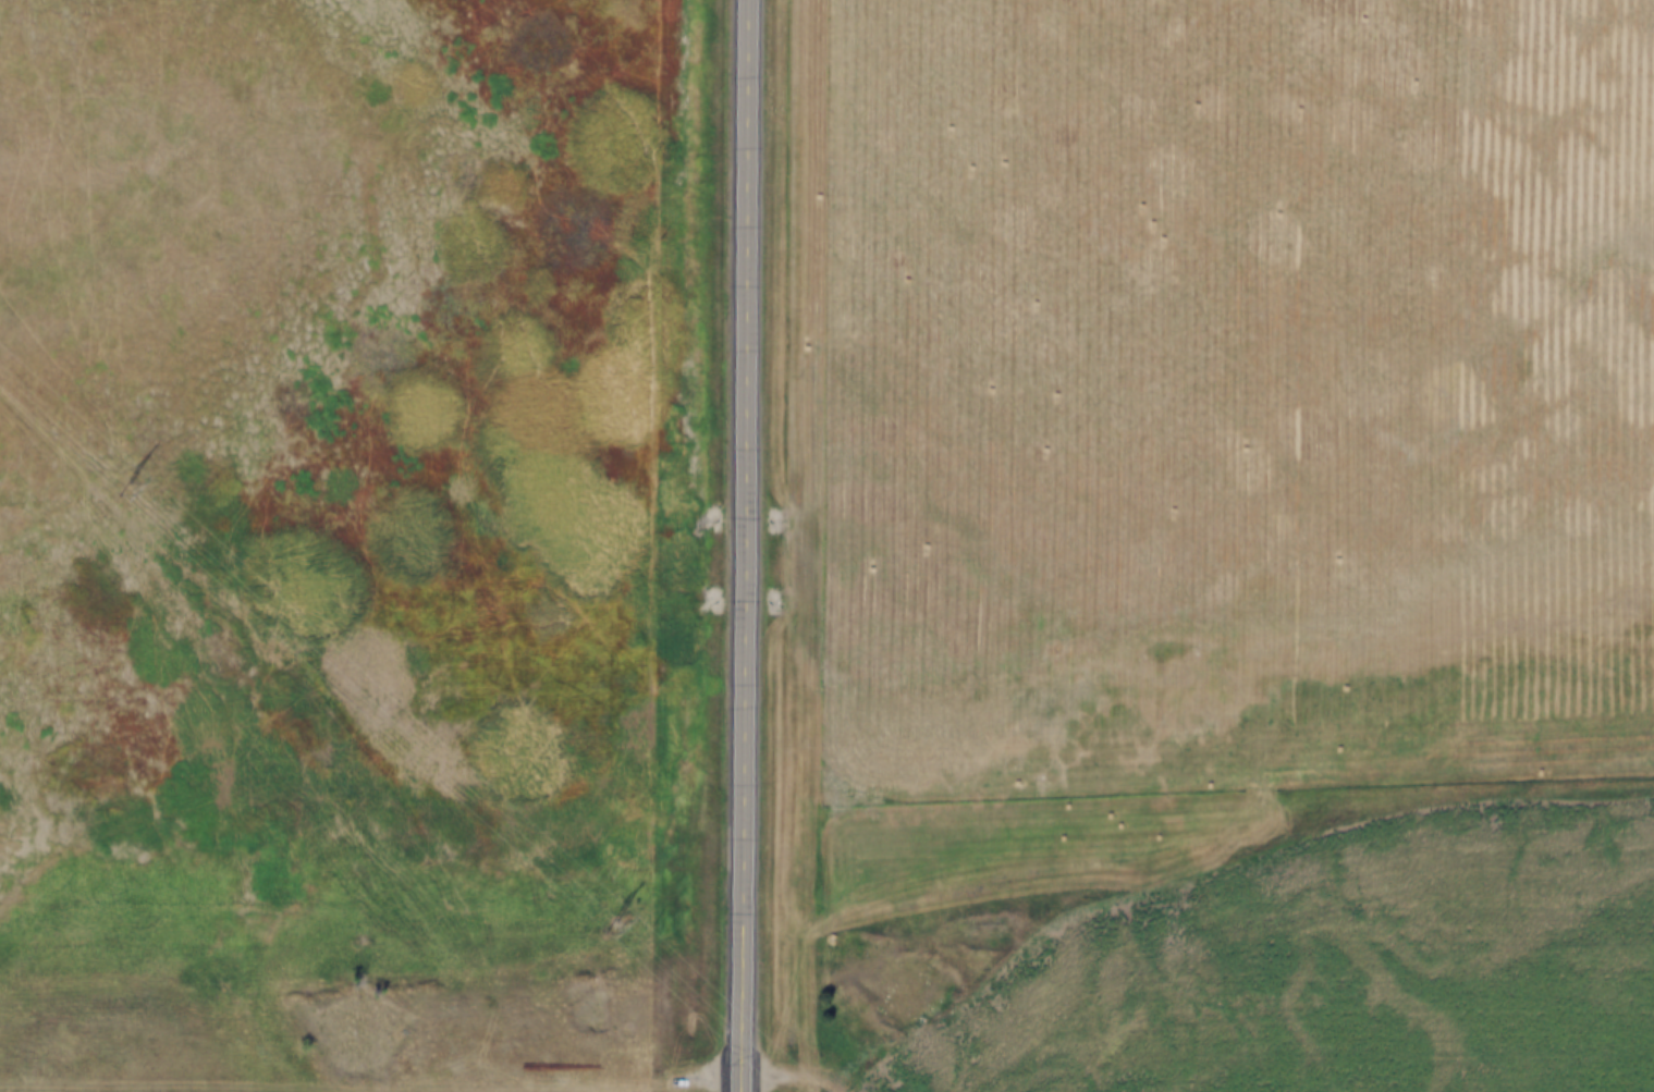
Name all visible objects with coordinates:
power tower: (134, 487)
road: (748, 545)
power tower: (617, 928)

